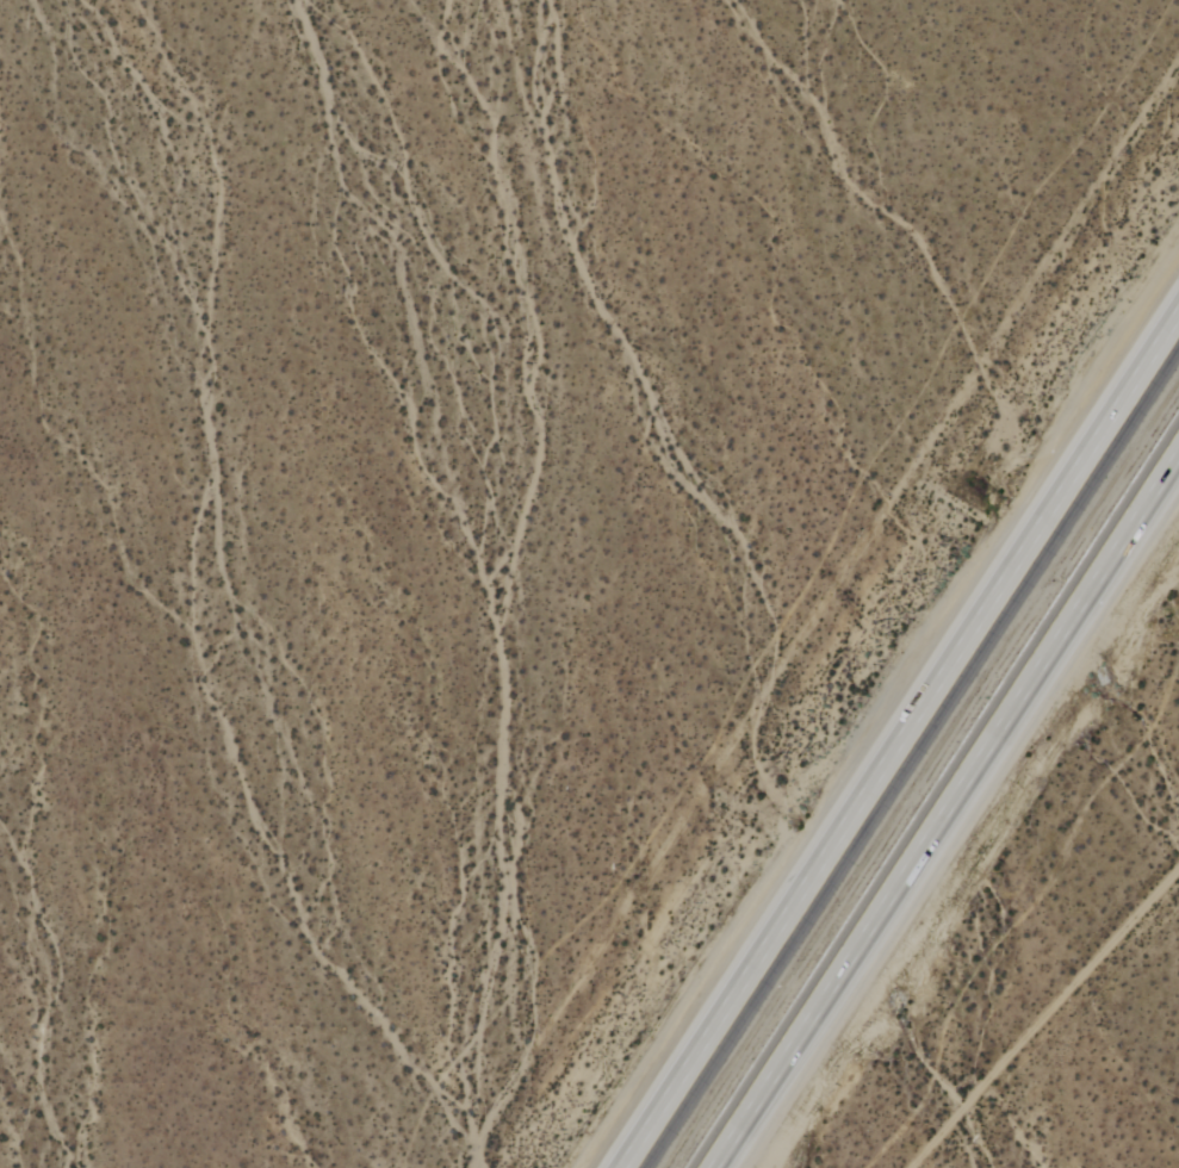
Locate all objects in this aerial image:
road: (899, 739)
railway: (920, 771)
road: (947, 812)

